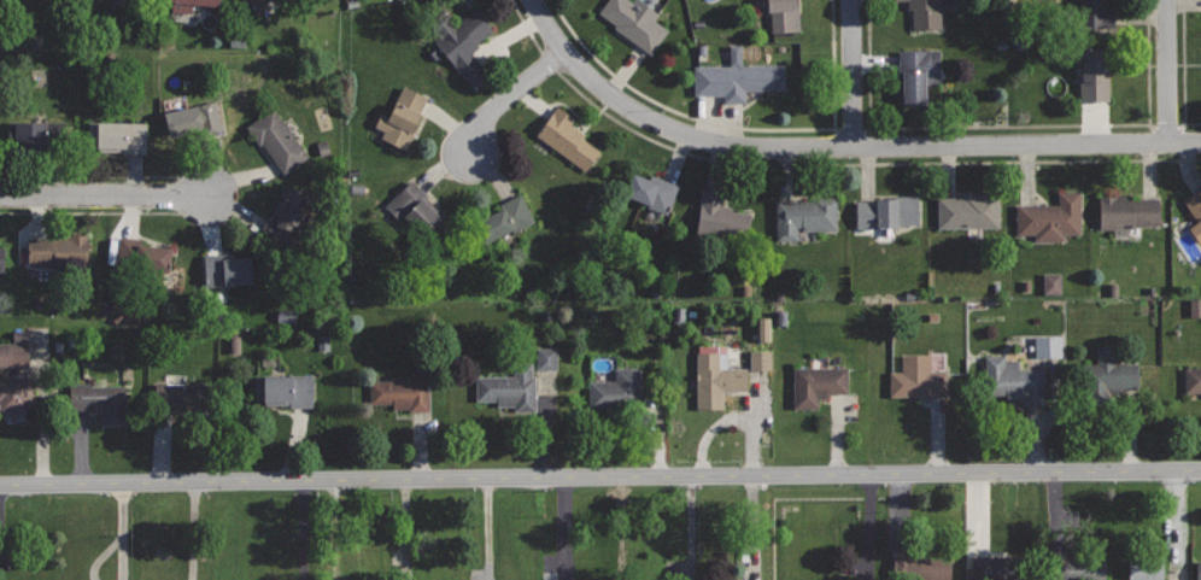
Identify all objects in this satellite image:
building: (122, 2)
building: (257, 2)
building: (187, 4)
building: (926, 13)
building: (1095, 13)
building: (784, 14)
building: (635, 22)
road: (525, 25)
building: (464, 41)
road: (547, 60)
road: (1167, 71)
road: (1182, 71)
road: (853, 72)
building: (918, 72)
building: (1094, 72)
building: (737, 80)
road: (508, 98)
building: (403, 116)
building: (183, 121)
road: (731, 125)
road: (1007, 125)
road: (668, 127)
building: (36, 134)
building: (117, 135)
building: (276, 137)
building: (568, 139)
road: (1027, 143)
road: (865, 164)
road: (89, 175)
building: (649, 189)
road: (105, 194)
building: (412, 209)
building: (887, 211)
building: (968, 211)
building: (1195, 211)
road: (88, 212)
building: (1127, 212)
building: (804, 216)
building: (505, 218)
building: (721, 218)
building: (1050, 218)
building: (288, 222)
building: (58, 248)
building: (143, 256)
building: (1, 257)
building: (225, 269)
building: (1049, 283)
building: (1194, 307)
building: (761, 329)
building: (1045, 346)
building: (12, 355)
building: (543, 358)
building: (757, 359)
building: (1108, 374)
building: (716, 375)
building: (918, 377)
building: (1014, 380)
building: (1193, 380)
building: (819, 383)
building: (510, 388)
building: (285, 389)
building: (616, 389)
building: (402, 392)
building: (13, 393)
building: (183, 396)
building: (102, 402)
road: (600, 478)
road: (689, 528)
building: (920, 566)
building: (997, 567)
building: (1074, 567)
building: (1143, 569)
building: (1199, 570)

